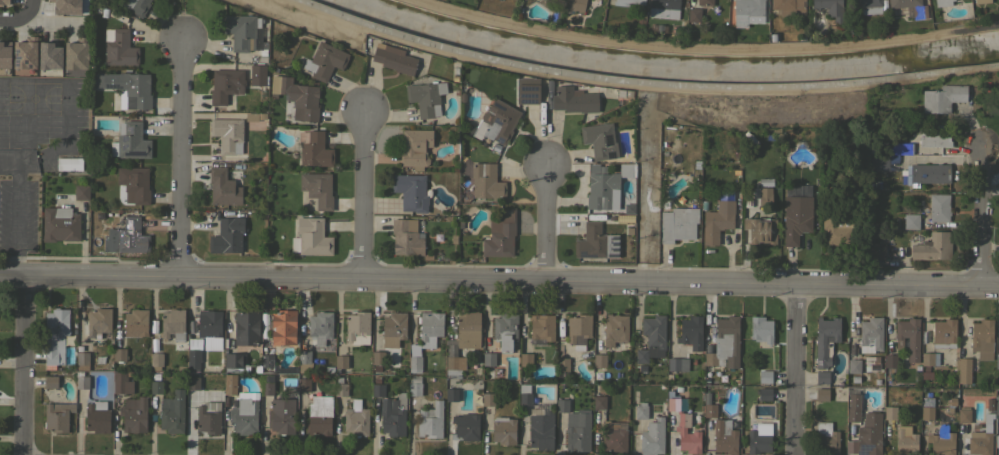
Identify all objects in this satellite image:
building: (632, 1)
building: (980, 1)
building: (4, 2)
building: (704, 2)
building: (942, 3)
building: (574, 5)
building: (788, 5)
building: (65, 6)
building: (135, 6)
building: (867, 6)
building: (664, 8)
building: (830, 8)
building: (746, 11)
building: (919, 13)
building: (694, 15)
road: (20, 17)
building: (241, 31)
building: (119, 47)
building: (24, 55)
building: (75, 55)
building: (48, 56)
building: (4, 57)
rooftop solar panel: (14, 58)
building: (394, 59)
building: (323, 61)
rooftop solar panel: (23, 62)
rooftop solar panel: (28, 66)
building: (257, 74)
road: (69, 80)
building: (225, 85)
road: (638, 85)
rooftop solar panel: (526, 88)
building: (135, 90)
building: (527, 91)
rooftop solar panel: (526, 96)
building: (942, 98)
building: (300, 99)
building: (426, 99)
building: (574, 100)
rooftop solar panel: (527, 101)
rooftop solar panel: (494, 105)
rooftop solar panel: (500, 108)
rooftop solar panel: (495, 120)
building: (496, 122)
rooftop solar panel: (128, 128)
building: (227, 135)
rooftop solar panel: (122, 139)
rooftop solar panel: (608, 139)
building: (934, 139)
building: (599, 140)
building: (130, 141)
rooftop solar panel: (124, 146)
building: (415, 147)
building: (899, 148)
building: (314, 149)
rooftop solar panel: (133, 152)
rooftop solar panel: (610, 154)
road: (181, 159)
building: (879, 163)
building: (69, 164)
building: (626, 170)
building: (929, 173)
building: (486, 181)
building: (134, 184)
building: (223, 187)
building: (317, 189)
building: (600, 191)
building: (81, 192)
building: (411, 192)
road: (363, 194)
building: (765, 196)
building: (846, 198)
road: (17, 207)
building: (939, 207)
road: (981, 216)
building: (796, 218)
building: (717, 221)
building: (911, 221)
building: (60, 224)
building: (678, 224)
road: (546, 225)
building: (761, 230)
building: (840, 230)
building: (500, 235)
building: (227, 236)
building: (126, 237)
building: (311, 237)
rooftop solar panel: (614, 237)
building: (406, 239)
building: (596, 242)
rooftop solar panel: (614, 243)
building: (932, 247)
rooftop solar panel: (614, 248)
building: (876, 251)
rooftop solar panel: (611, 255)
rooftop solar panel: (583, 256)
road: (499, 282)
building: (98, 321)
building: (136, 322)
building: (209, 323)
building: (173, 325)
building: (282, 326)
building: (541, 326)
building: (246, 327)
building: (319, 327)
building: (357, 327)
building: (430, 328)
building: (393, 329)
building: (468, 329)
building: (614, 329)
building: (761, 329)
building: (505, 330)
building: (578, 330)
building: (691, 332)
building: (944, 333)
building: (870, 335)
building: (55, 336)
building: (909, 336)
building: (116, 337)
building: (652, 338)
building: (825, 339)
building: (982, 339)
building: (724, 343)
building: (119, 354)
building: (193, 354)
building: (377, 357)
building: (414, 358)
building: (489, 358)
building: (927, 358)
building: (525, 359)
building: (82, 360)
building: (156, 360)
building: (267, 360)
building: (599, 360)
building: (870, 360)
building: (304, 361)
building: (341, 361)
building: (890, 361)
building: (235, 362)
building: (997, 362)
building: (562, 364)
building: (673, 364)
road: (23, 365)
building: (853, 366)
building: (453, 367)
road: (797, 369)
building: (964, 370)
building: (765, 376)
building: (822, 377)
building: (855, 379)
building: (81, 380)
building: (50, 381)
building: (877, 381)
building: (121, 383)
building: (192, 383)
building: (229, 384)
building: (267, 384)
building: (303, 384)
building: (414, 385)
building: (155, 386)
building: (340, 387)
building: (378, 390)
building: (764, 393)
building: (451, 394)
building: (524, 394)
building: (821, 394)
building: (706, 398)
building: (488, 399)
building: (599, 402)
building: (952, 402)
building: (997, 405)
building: (853, 408)
building: (709, 410)
building: (640, 411)
building: (172, 412)
building: (890, 412)
building: (927, 413)
building: (133, 414)
building: (964, 414)
building: (281, 415)
building: (319, 415)
building: (393, 415)
building: (57, 416)
building: (244, 416)
building: (97, 417)
building: (356, 419)
building: (208, 420)
building: (430, 421)
building: (466, 426)
building: (575, 427)
building: (684, 429)
building: (503, 430)
building: (541, 430)
building: (869, 434)
building: (652, 436)
building: (613, 437)
building: (724, 437)
building: (825, 440)
building: (905, 440)
building: (941, 441)
building: (997, 441)
building: (758, 442)
building: (979, 443)
rooftop solar panel: (864, 450)

